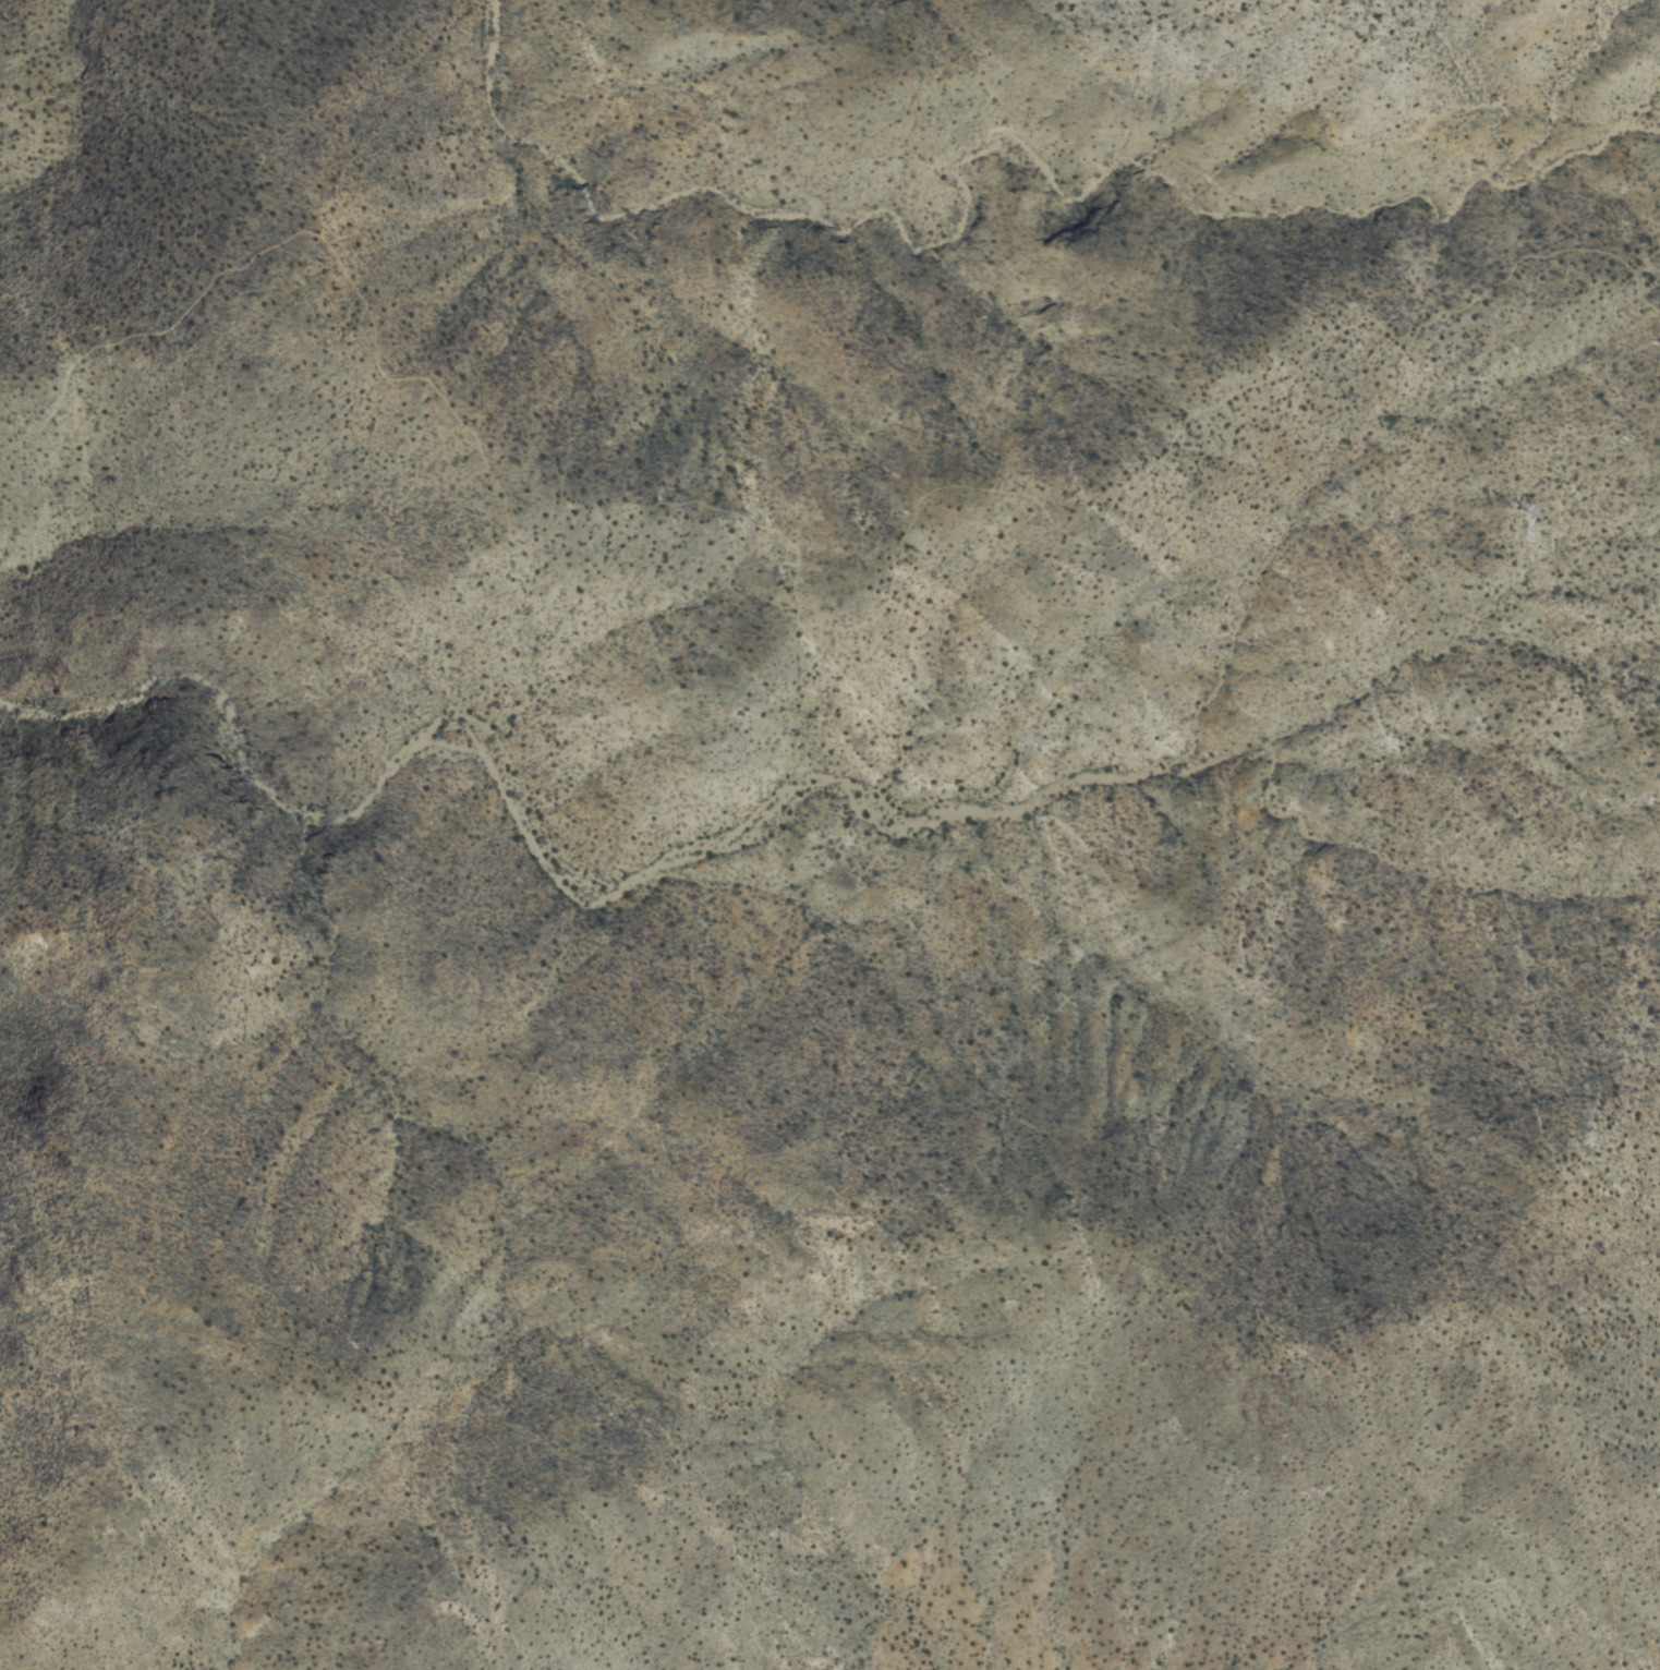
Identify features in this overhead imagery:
road: (1657, 376)
road: (793, 602)

